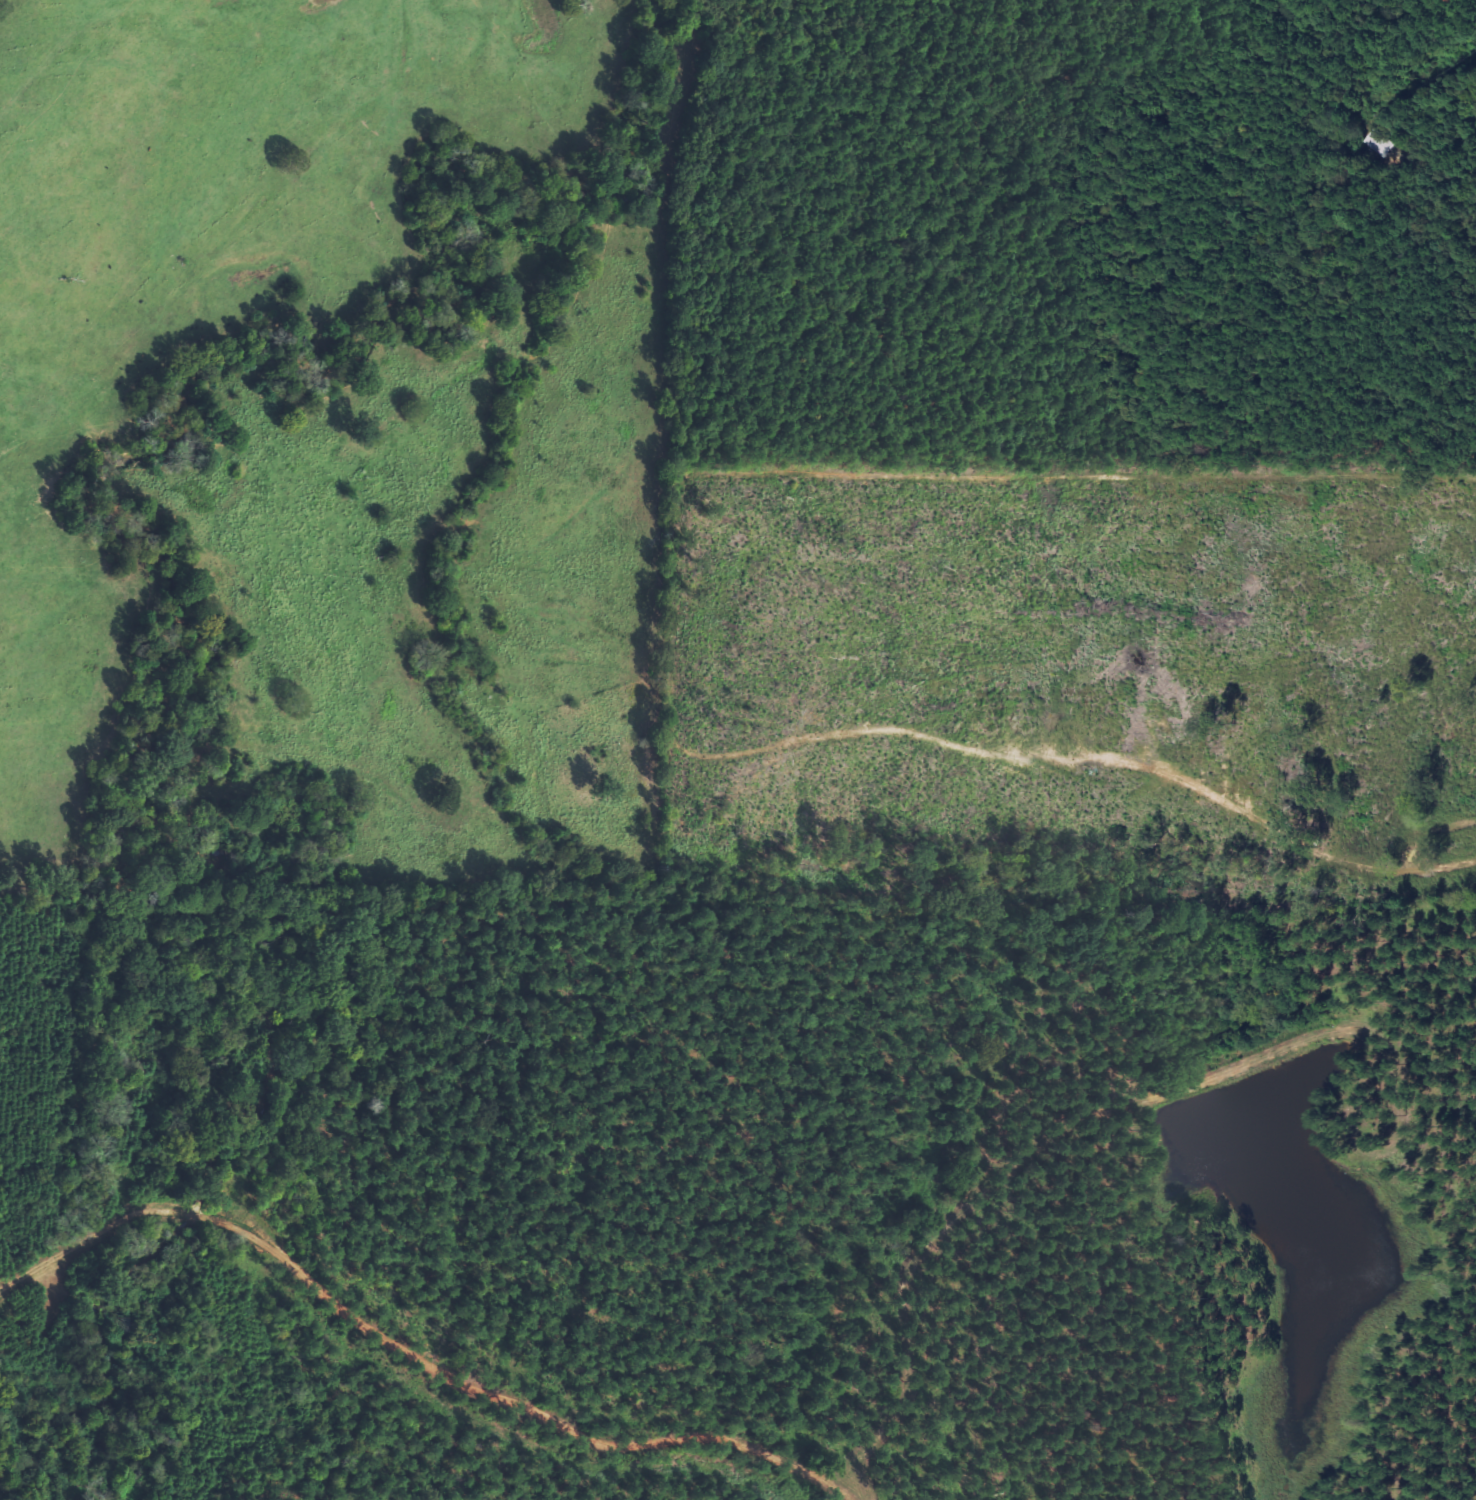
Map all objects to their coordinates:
road: (444, 1360)

